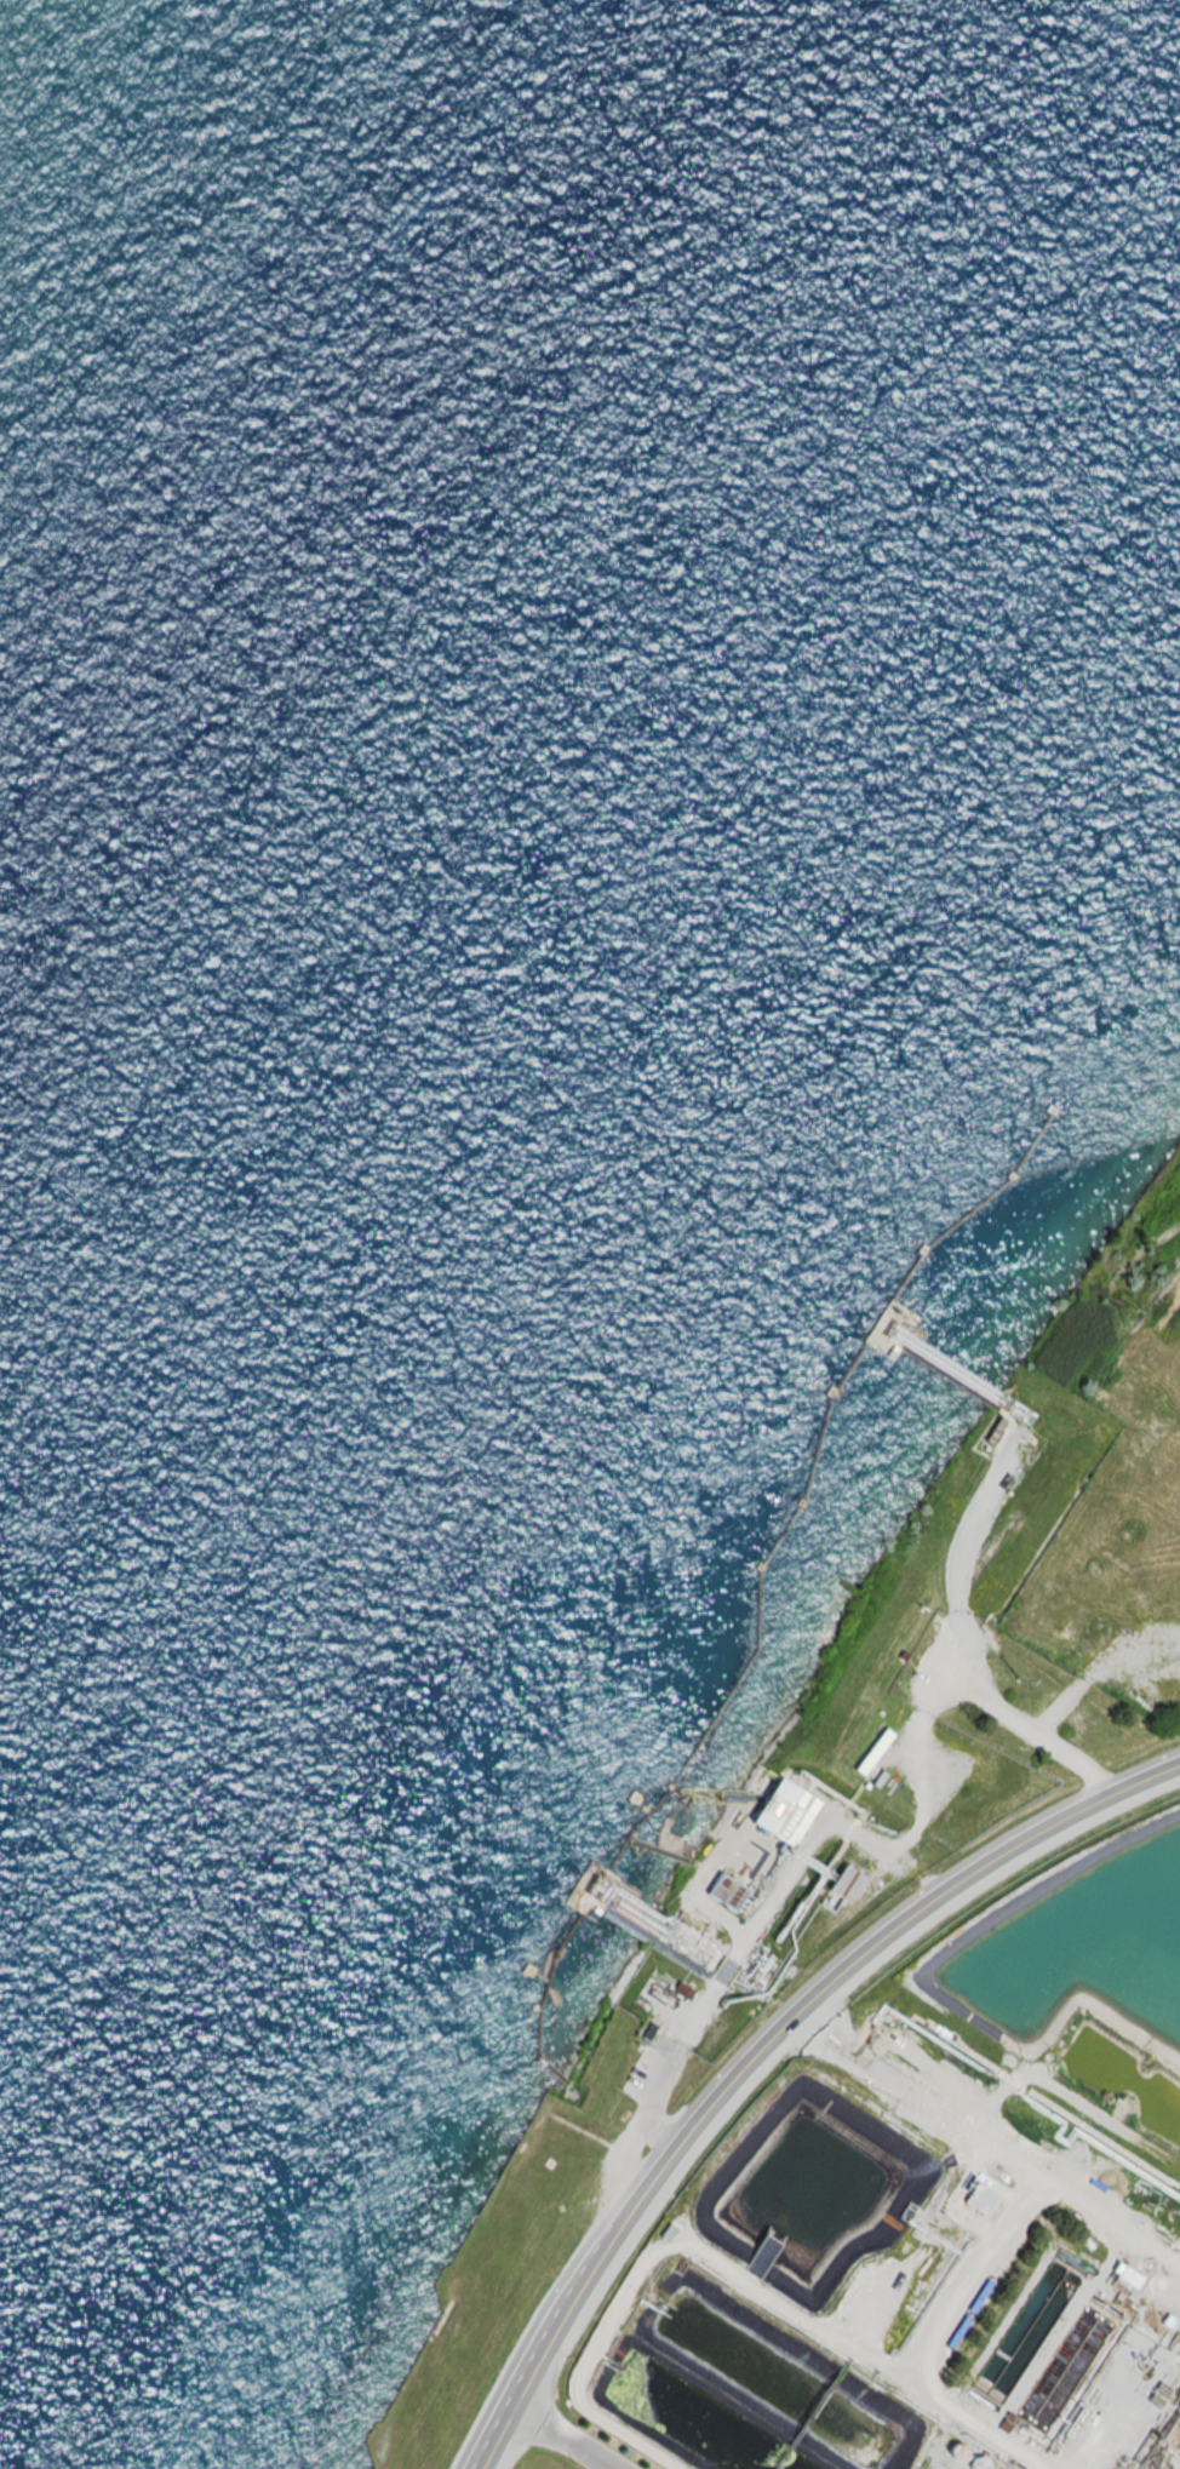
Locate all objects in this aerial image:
river: (519, 678)
pier: (830, 1465)
road: (953, 1640)
road: (1146, 1776)
road: (1029, 1841)
pier: (594, 1869)
pier: (634, 1883)
pier: (626, 1901)
road: (752, 1934)
pier: (559, 1988)
road: (798, 2013)
road: (976, 2141)
road: (1109, 2225)
road: (974, 2279)
road: (595, 2287)
road: (502, 2444)
road: (557, 2444)

